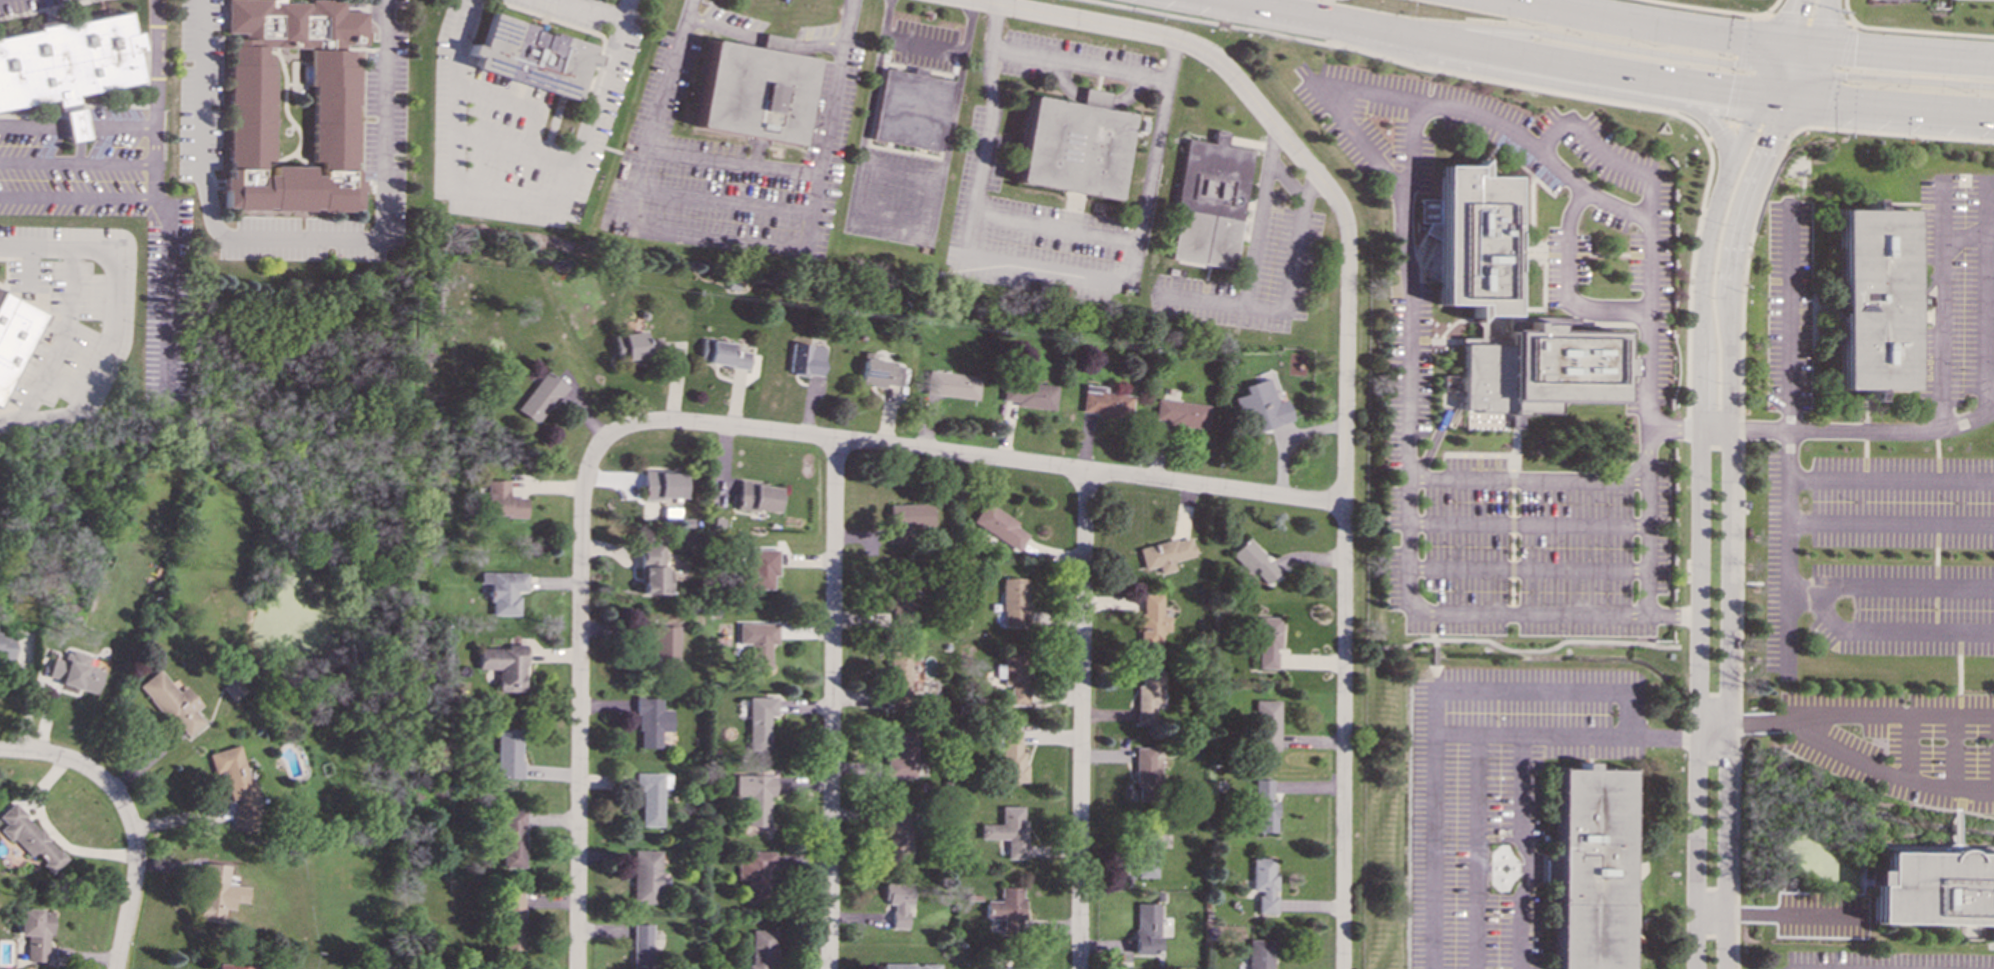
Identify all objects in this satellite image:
road: (599, 8)
road: (1715, 9)
road: (1284, 12)
traffic signals: (1796, 12)
road: (1809, 19)
road: (1823, 23)
road: (1661, 27)
road: (1376, 29)
road: (1911, 30)
road: (1129, 31)
road: (763, 41)
road: (1743, 42)
road: (923, 43)
road: (1609, 44)
road: (1781, 46)
traffic signals: (1854, 50)
road: (1903, 53)
building: (532, 55)
traffic signals: (1733, 63)
road: (1079, 64)
building: (67, 66)
road: (1595, 67)
road: (1801, 70)
road: (1837, 73)
road: (1876, 79)
road: (1552, 83)
traffic signals: (1729, 89)
road: (1545, 90)
building: (754, 91)
road: (1734, 97)
road: (516, 105)
road: (1891, 105)
building: (911, 108)
building: (251, 114)
road: (1482, 117)
road: (77, 127)
road: (1759, 128)
road: (1745, 129)
road: (1716, 131)
road: (1908, 135)
traffic signals: (1771, 137)
building: (1073, 144)
road: (516, 147)
road: (612, 149)
road: (729, 162)
road: (77, 163)
road: (1645, 175)
road: (899, 176)
road: (1310, 186)
road: (76, 198)
road: (526, 199)
road: (1986, 199)
road: (722, 200)
building: (1210, 201)
road: (155, 202)
road: (896, 226)
road: (1056, 227)
road: (1963, 233)
road: (300, 237)
road: (726, 242)
road: (1295, 251)
road: (1252, 255)
road: (1039, 270)
road: (1567, 288)
building: (1873, 299)
road: (1941, 303)
road: (1986, 312)
building: (1509, 315)
road: (113, 318)
road: (60, 335)
building: (15, 337)
building: (636, 345)
building: (721, 354)
building: (806, 359)
road: (1408, 361)
building: (878, 372)
building: (951, 384)
building: (1028, 394)
building: (540, 397)
building: (1104, 402)
building: (1260, 406)
building: (1179, 415)
road: (1716, 429)
road: (1891, 430)
road: (1786, 437)
road: (1492, 454)
road: (1864, 454)
road: (1936, 455)
road: (969, 457)
road: (1527, 479)
road: (1890, 479)
building: (663, 484)
building: (757, 497)
building: (501, 500)
building: (907, 521)
road: (1890, 523)
road: (1526, 524)
parking lot: (1511, 525)
building: (998, 526)
road: (1729, 526)
road: (1739, 529)
road: (1343, 531)
road: (1511, 534)
road: (1646, 547)
building: (1164, 554)
road: (1935, 554)
building: (1253, 560)
road: (1699, 565)
building: (653, 569)
building: (759, 569)
road: (1526, 570)
road: (1762, 583)
road: (1903, 586)
building: (504, 591)
building: (902, 598)
building: (1013, 602)
road: (1934, 610)
building: (1151, 619)
road: (1431, 626)
road: (1877, 634)
building: (1266, 641)
building: (757, 642)
building: (6, 644)
building: (664, 645)
road: (1524, 650)
road: (1434, 652)
building: (504, 665)
building: (77, 672)
road: (1958, 675)
building: (1014, 676)
road: (1434, 678)
building: (234, 689)
building: (1149, 696)
building: (173, 703)
road: (578, 704)
road: (830, 704)
road: (1437, 711)
road: (1080, 720)
building: (760, 721)
building: (652, 722)
building: (1266, 725)
road: (1786, 727)
road: (1711, 732)
road: (1479, 736)
building: (508, 753)
building: (1010, 755)
building: (901, 756)
road: (60, 757)
building: (1147, 773)
building: (237, 786)
road: (1522, 794)
building: (651, 796)
building: (755, 796)
parking lot: (1497, 798)
building: (1263, 807)
building: (1008, 830)
building: (898, 831)
road: (53, 834)
building: (30, 838)
building: (511, 839)
building: (1145, 851)
road: (1476, 852)
building: (1590, 868)
building: (755, 875)
road: (135, 876)
building: (645, 876)
building: (1263, 884)
building: (1933, 888)
building: (218, 892)
building: (898, 902)
building: (1008, 910)
road: (1775, 913)
building: (512, 920)
building: (1146, 928)
building: (36, 933)
building: (640, 946)
building: (761, 948)
building: (1259, 954)
building: (911, 966)
building: (235, 967)
building: (1007, 968)

